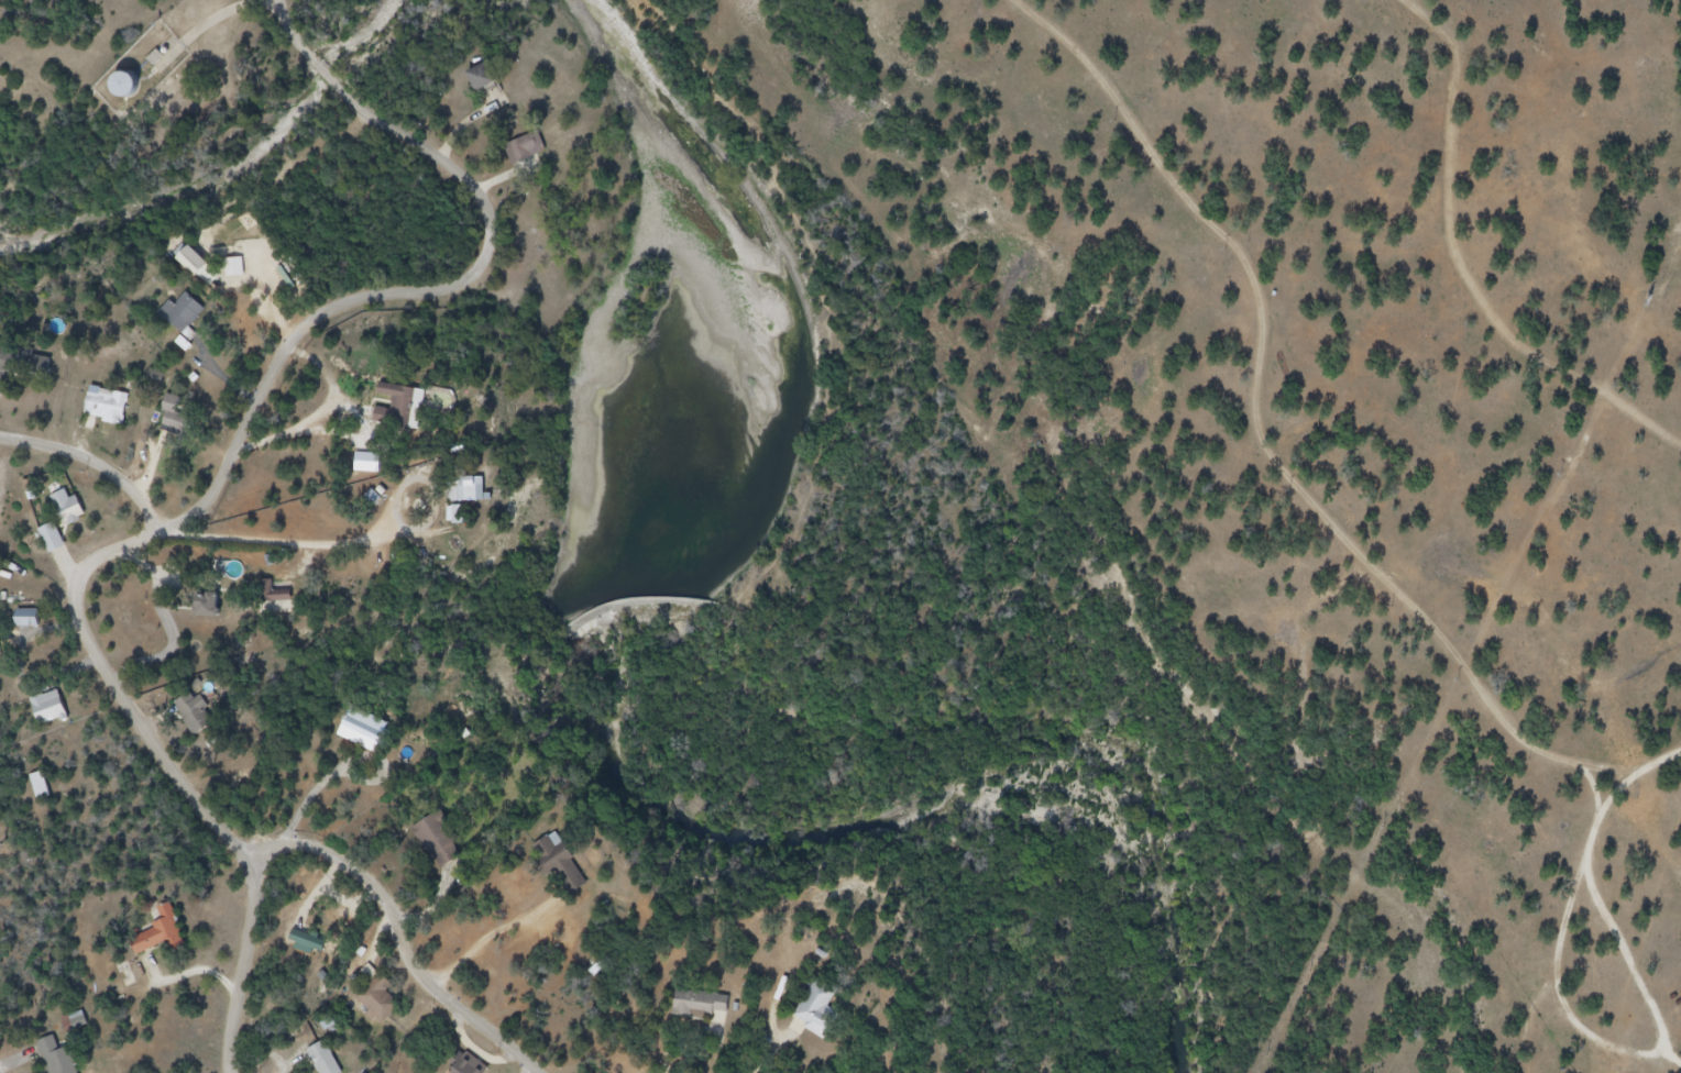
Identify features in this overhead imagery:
road: (217, 22)
building: (125, 85)
building: (491, 85)
building: (134, 99)
water tower: (134, 100)
building: (535, 147)
building: (191, 259)
building: (202, 274)
building: (190, 319)
building: (33, 369)
building: (116, 409)
building: (411, 418)
building: (179, 423)
road: (97, 457)
road: (222, 482)
building: (468, 489)
building: (475, 507)
building: (69, 526)
building: (276, 595)
dam: (629, 602)
building: (207, 606)
building: (218, 618)
building: (34, 622)
building: (56, 711)
building: (202, 721)
building: (371, 735)
building: (41, 786)
building: (452, 844)
building: (567, 872)
road: (405, 931)
building: (167, 939)
building: (384, 993)
building: (702, 1005)
building: (79, 1024)
building: (712, 1026)
building: (827, 1026)
building: (65, 1058)
building: (330, 1060)
building: (476, 1068)

